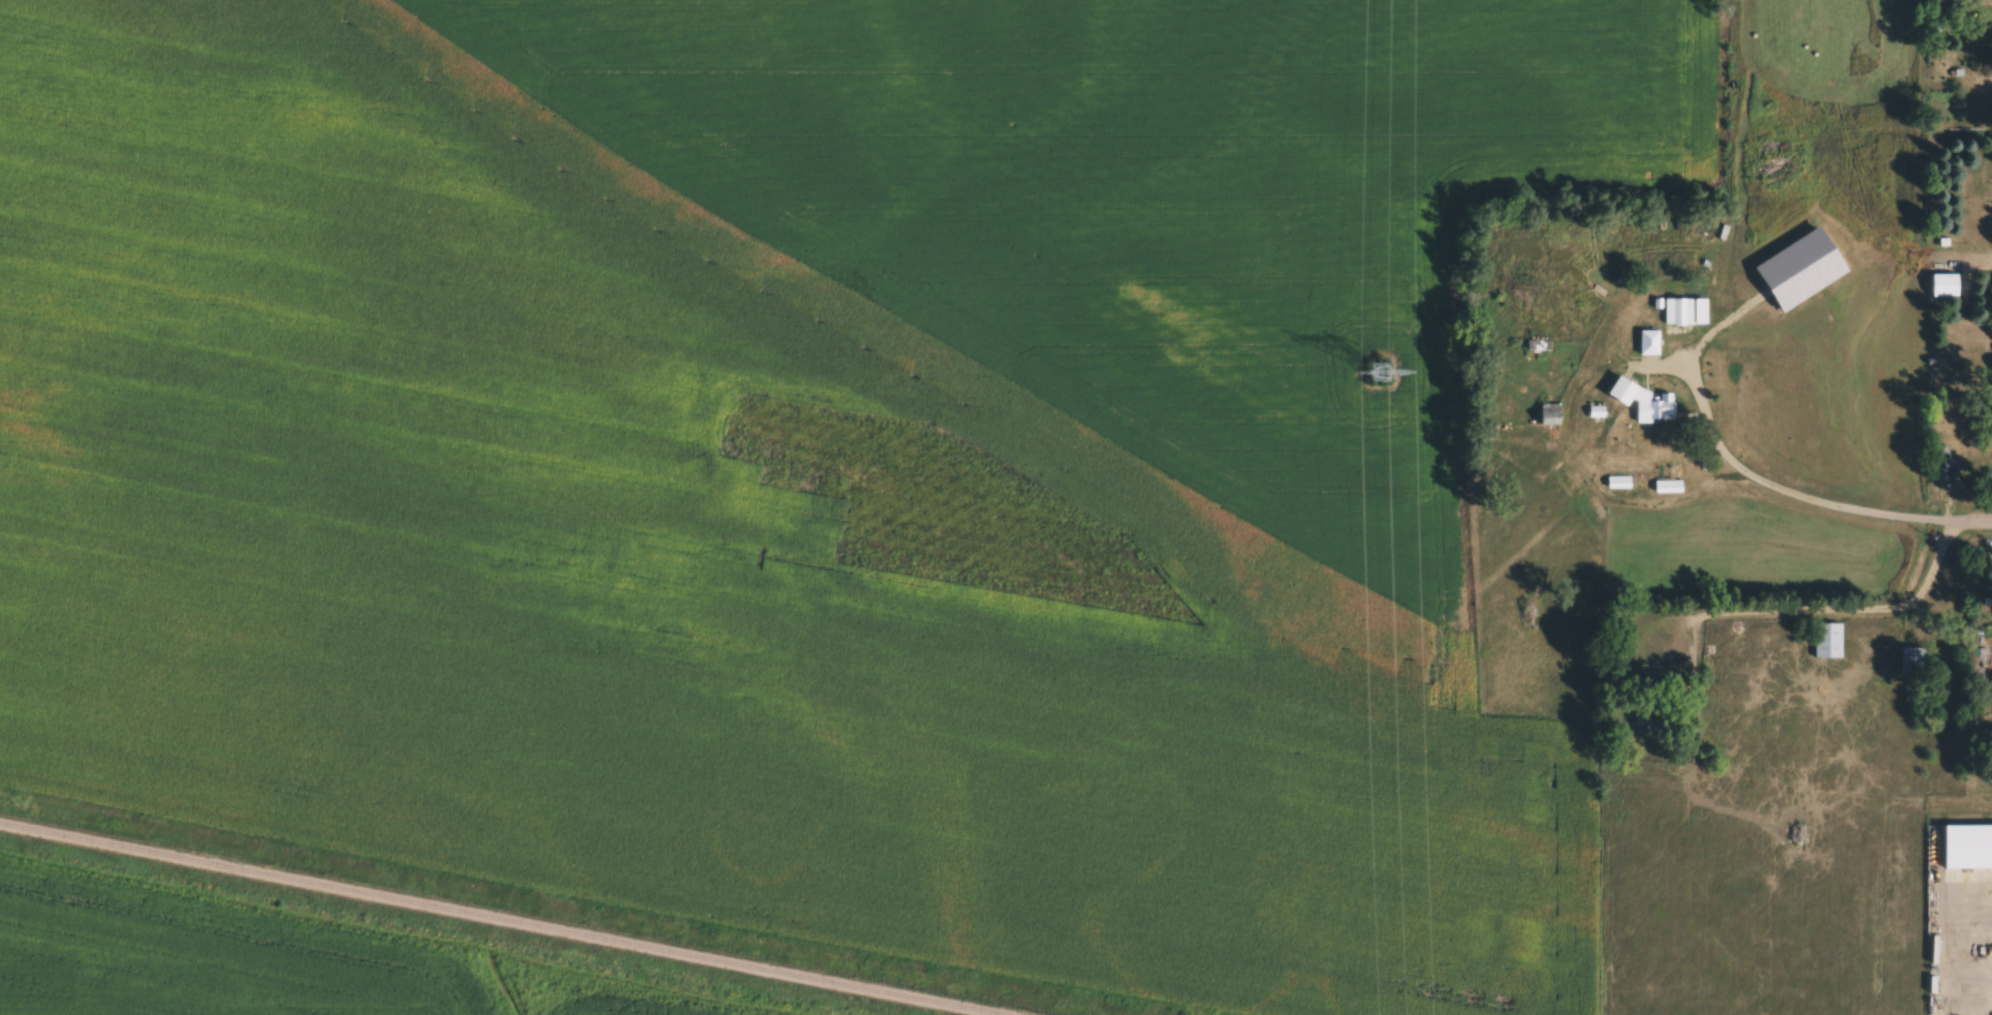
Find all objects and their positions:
road: (1967, 261)
building: (1945, 284)
building: (1687, 310)
building: (1650, 341)
power tower: (1383, 371)
building: (1656, 408)
building: (1550, 412)
crop: (861, 449)
building: (1947, 469)
road: (1789, 490)
road: (1973, 525)
road: (1846, 609)
building: (1829, 640)
building: (1913, 659)
building: (1654, 720)
building: (1969, 846)
railway: (501, 919)
crop: (273, 962)

